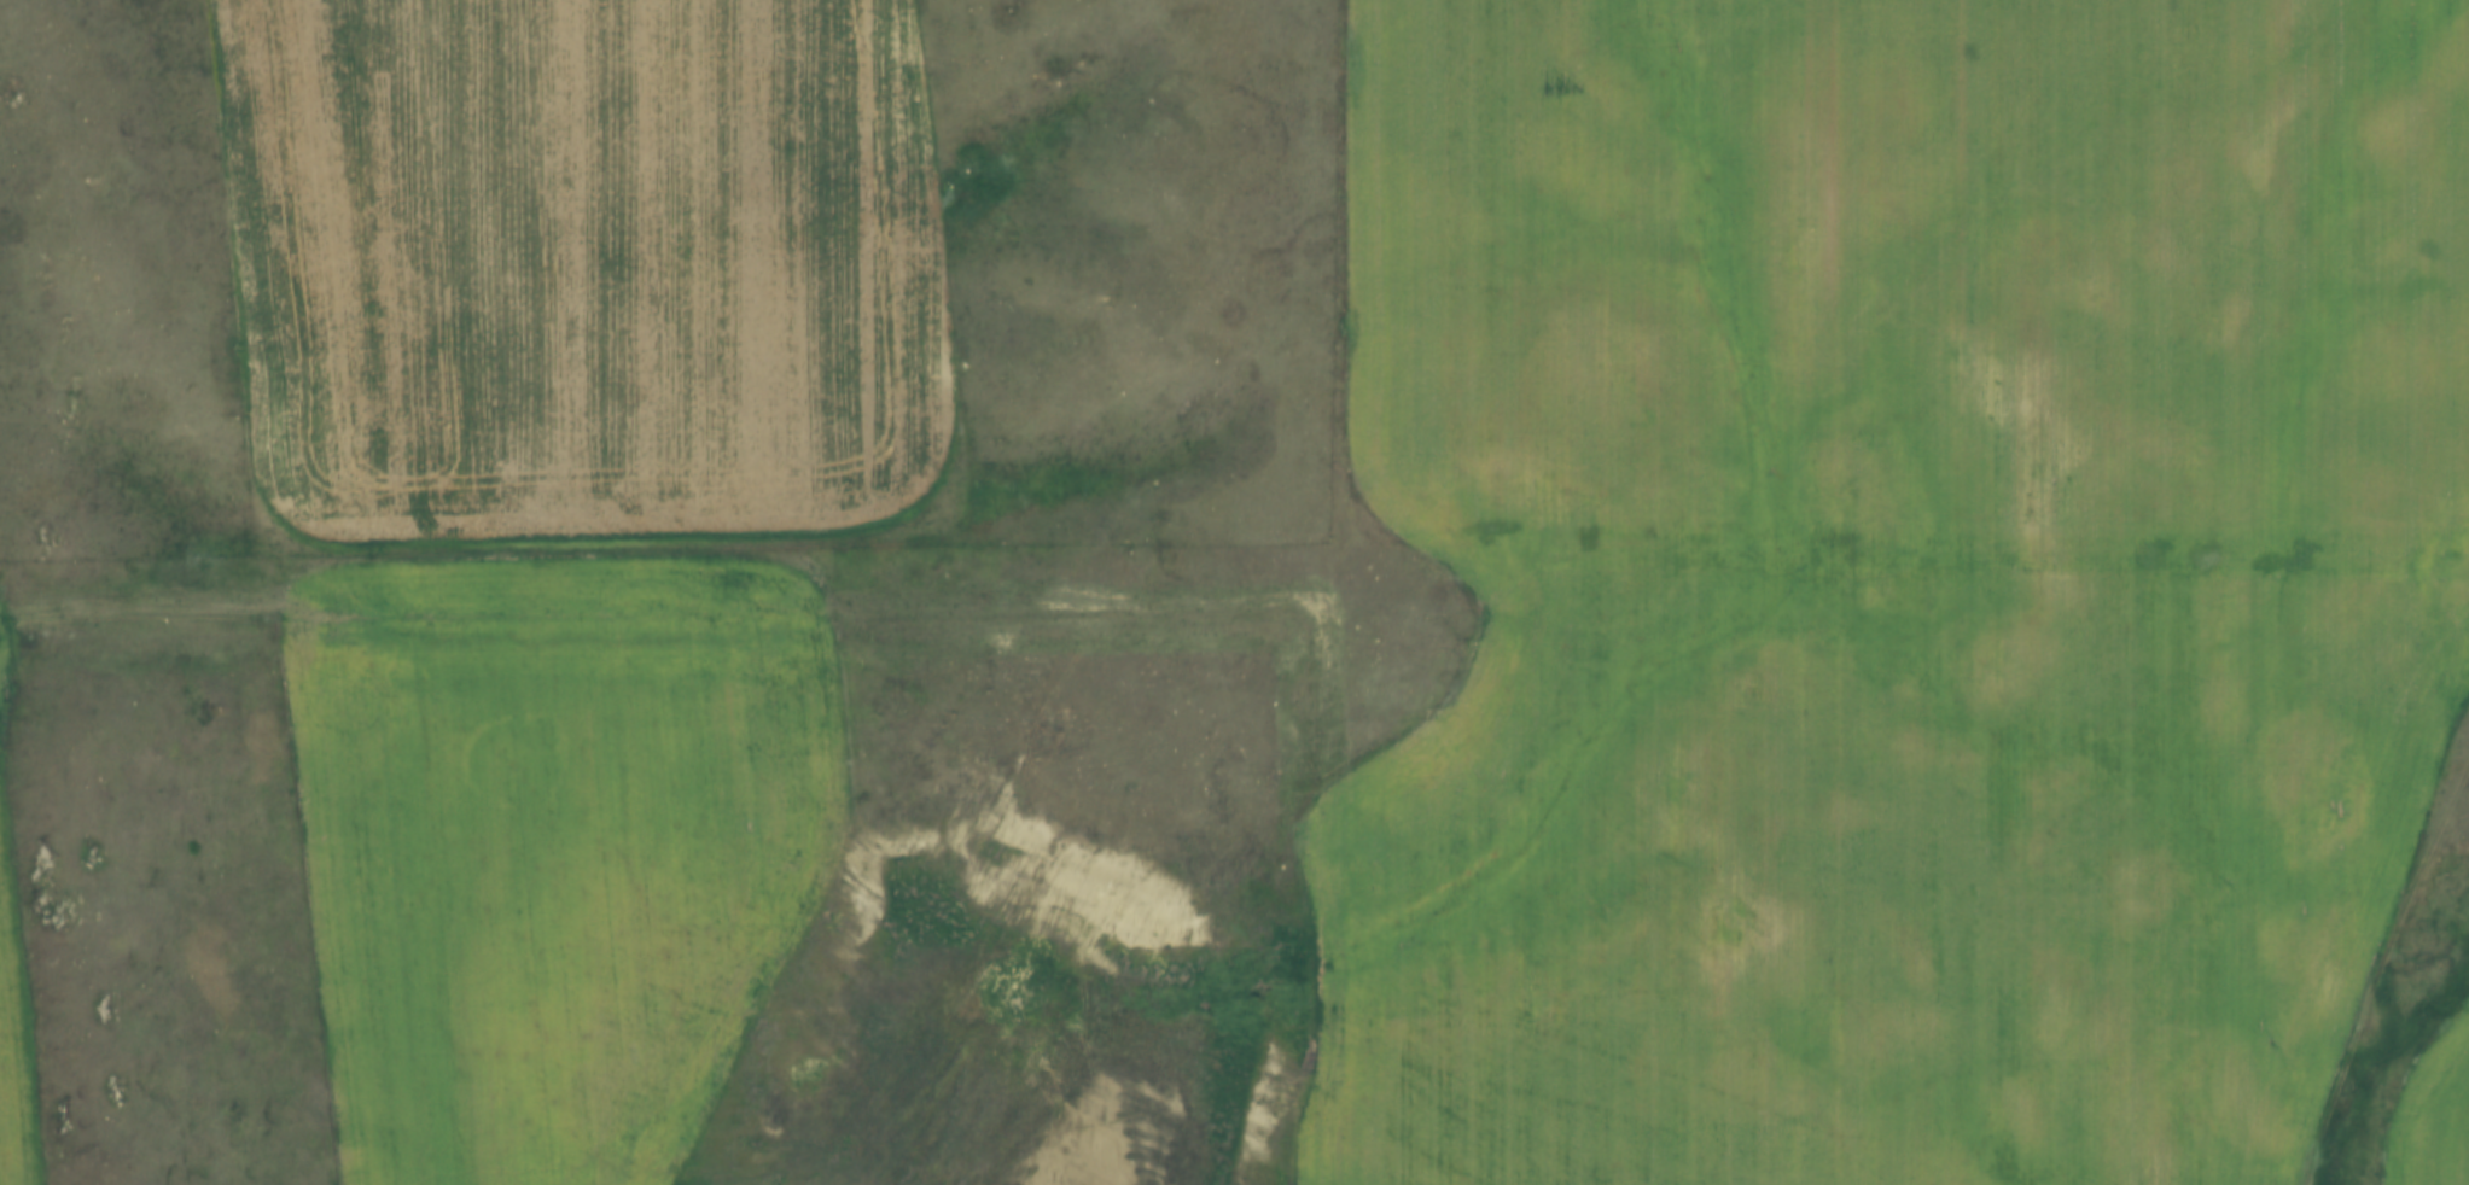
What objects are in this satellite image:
road: (2380, 942)

